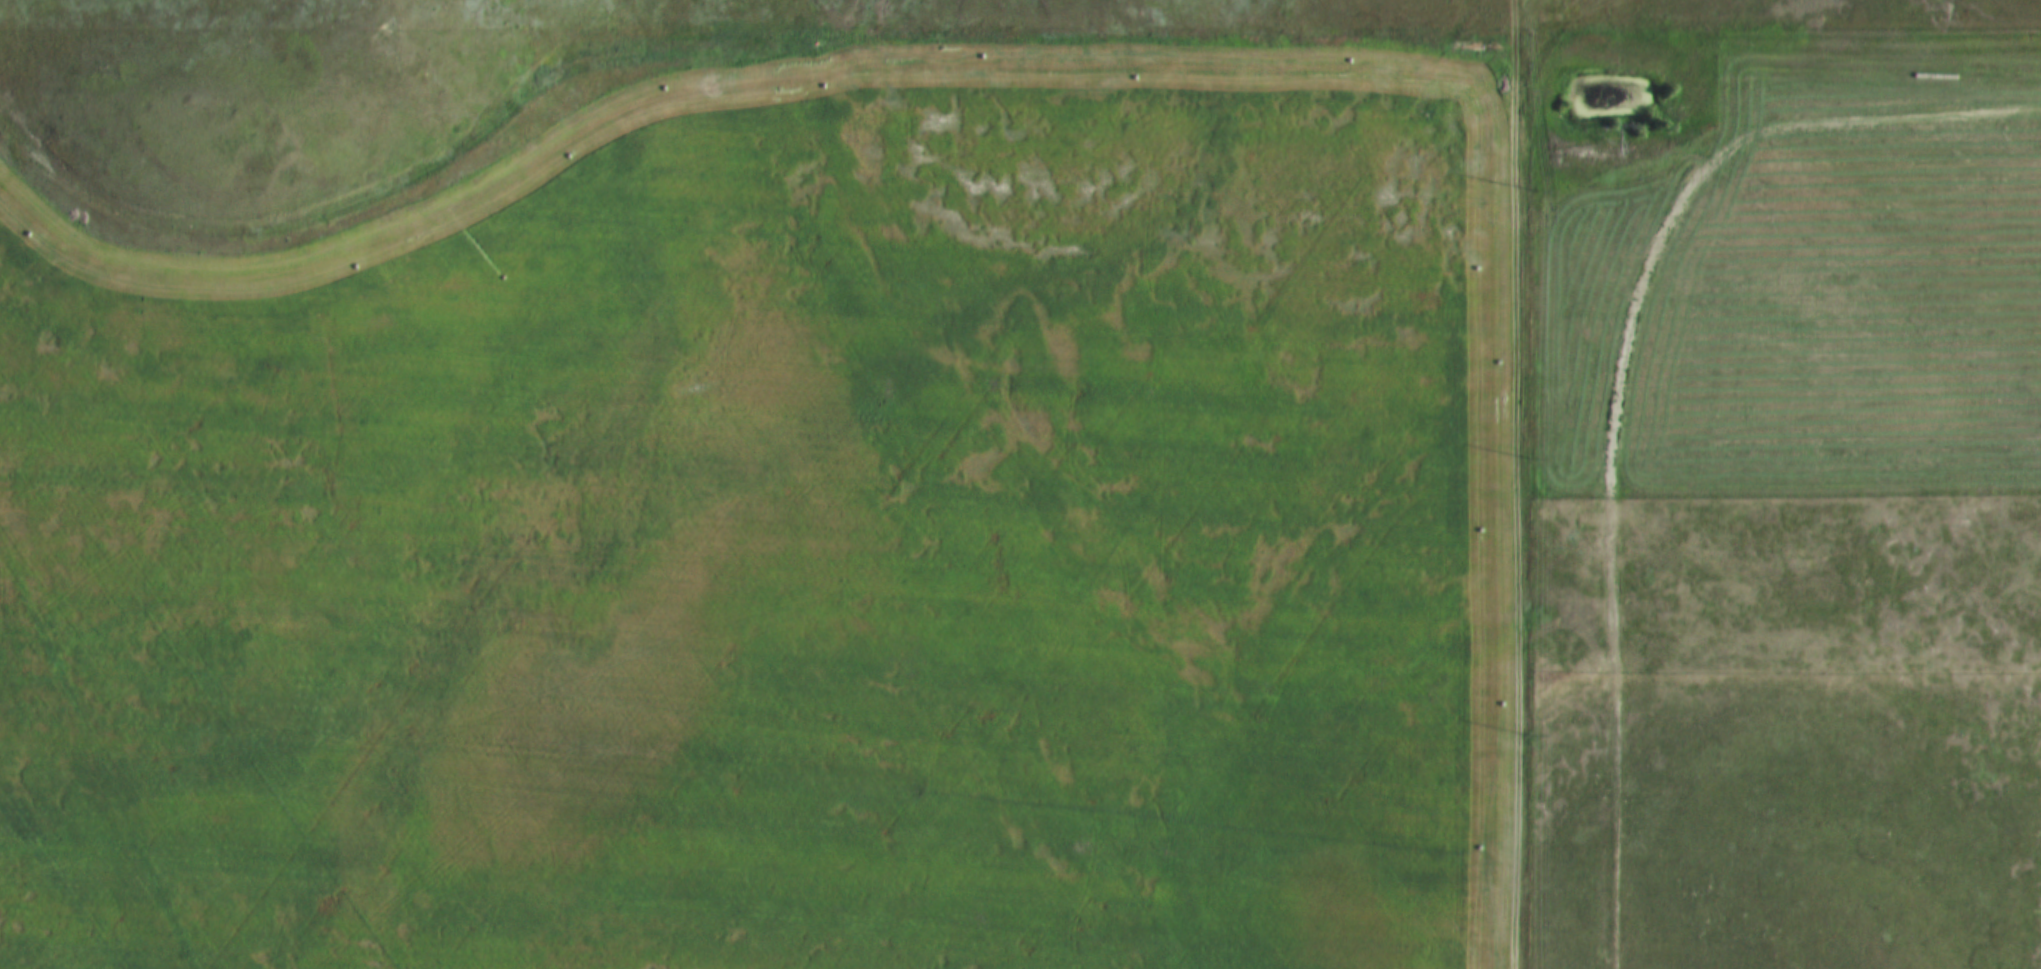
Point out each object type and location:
road: (1513, 460)

